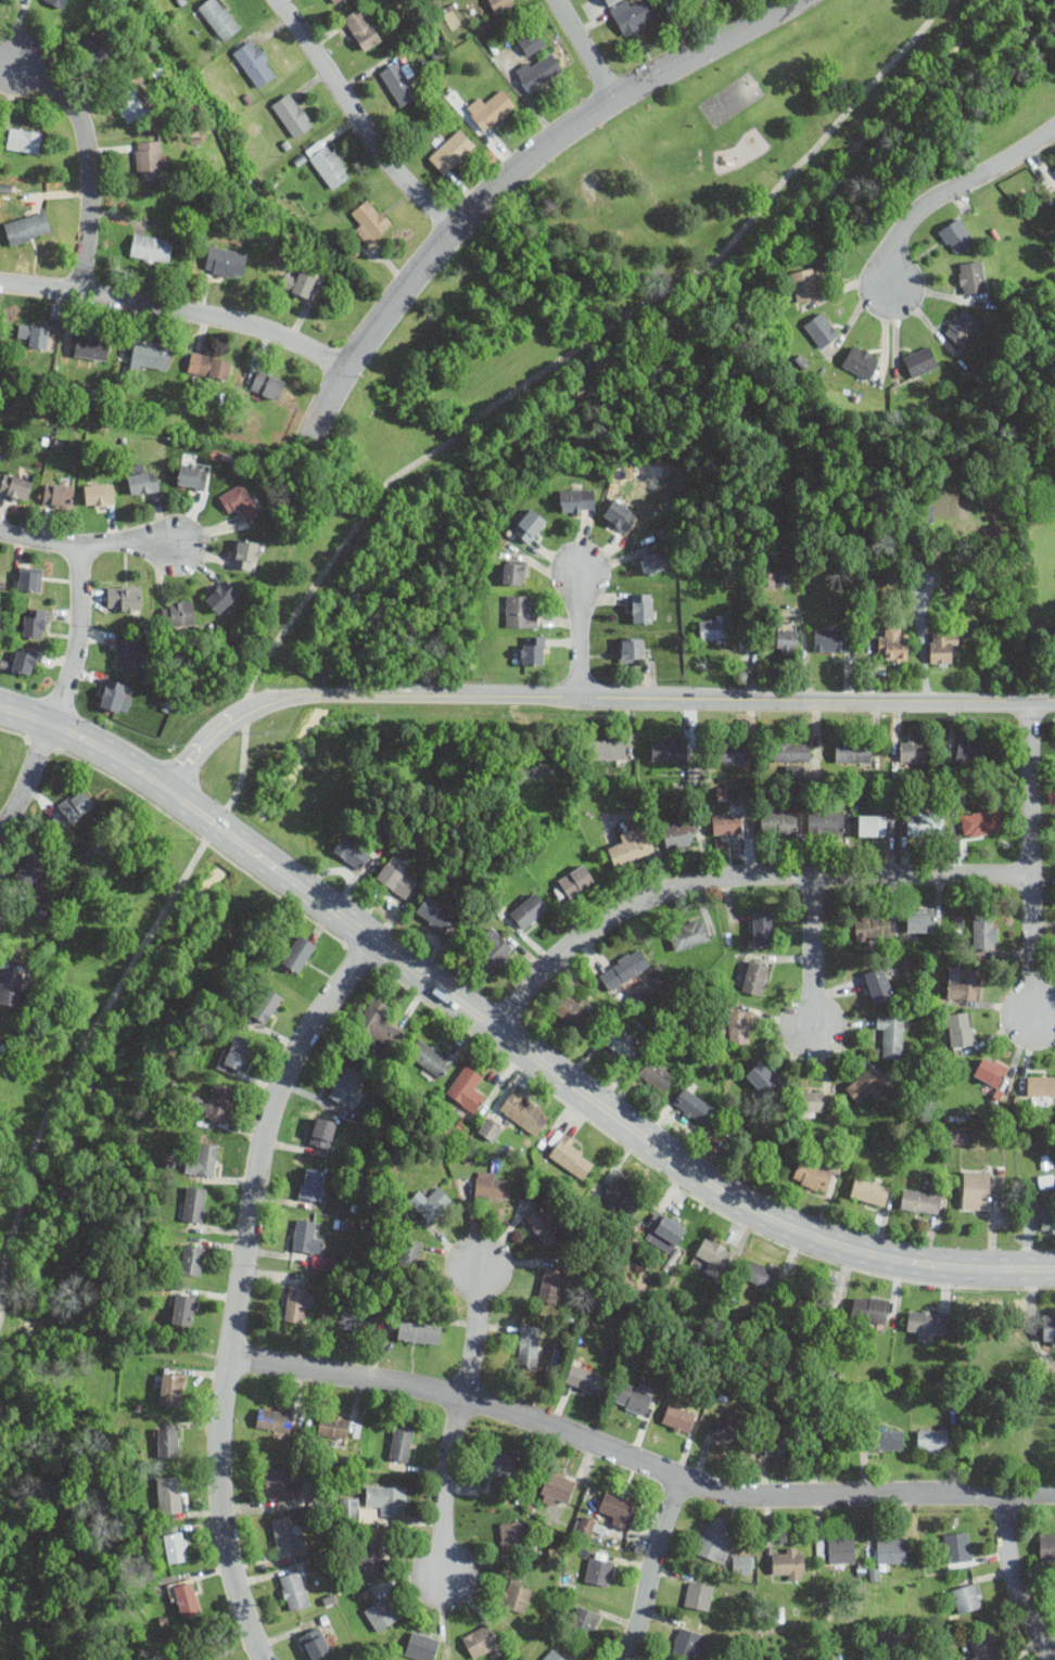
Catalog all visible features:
building: (0, 0)
building: (333, 1)
building: (677, 1)
building: (58, 2)
building: (500, 4)
building: (630, 14)
building: (219, 17)
building: (363, 28)
building: (531, 42)
road: (584, 48)
building: (96, 50)
building: (254, 62)
building: (538, 71)
building: (398, 81)
park: (730, 99)
building: (130, 104)
building: (492, 110)
building: (292, 114)
road: (357, 117)
building: (24, 139)
building: (452, 150)
building: (149, 158)
road: (87, 162)
building: (328, 162)
building: (1054, 168)
building: (1054, 170)
road: (507, 175)
road: (951, 193)
building: (370, 219)
building: (26, 227)
building: (956, 234)
building: (151, 247)
building: (226, 260)
building: (971, 276)
building: (298, 282)
building: (805, 283)
road: (175, 309)
park: (618, 319)
building: (962, 325)
building: (821, 329)
building: (35, 334)
building: (91, 346)
building: (151, 356)
building: (860, 360)
building: (920, 360)
building: (208, 365)
building: (267, 383)
building: (192, 474)
building: (143, 481)
building: (15, 486)
building: (59, 494)
building: (99, 494)
building: (576, 500)
building: (240, 501)
building: (620, 514)
building: (530, 524)
road: (88, 544)
building: (246, 553)
building: (932, 556)
building: (650, 558)
road: (331, 564)
building: (513, 572)
building: (776, 576)
building: (30, 578)
building: (221, 596)
building: (124, 599)
building: (641, 608)
building: (521, 611)
building: (179, 613)
building: (35, 622)
building: (715, 627)
road: (577, 631)
building: (829, 638)
building: (787, 639)
building: (893, 643)
building: (943, 647)
building: (632, 648)
building: (533, 649)
building: (128, 653)
building: (24, 661)
road: (66, 692)
building: (113, 693)
road: (590, 695)
building: (607, 748)
building: (668, 749)
building: (914, 750)
building: (734, 751)
building: (791, 751)
building: (975, 751)
building: (853, 752)
building: (795, 769)
building: (694, 774)
building: (76, 804)
building: (826, 820)
building: (778, 821)
building: (980, 821)
building: (727, 822)
building: (925, 822)
building: (872, 823)
building: (679, 831)
building: (627, 845)
building: (352, 852)
road: (1028, 860)
building: (30, 868)
road: (734, 874)
building: (395, 879)
building: (576, 880)
building: (0, 902)
building: (38, 906)
building: (529, 908)
building: (1, 909)
building: (435, 911)
building: (920, 918)
building: (877, 925)
building: (762, 928)
building: (984, 930)
building: (688, 933)
building: (493, 949)
road: (813, 950)
building: (297, 953)
building: (624, 968)
building: (755, 978)
building: (964, 982)
building: (879, 984)
building: (10, 987)
building: (266, 1004)
building: (571, 1010)
building: (379, 1022)
building: (734, 1027)
building: (961, 1027)
building: (891, 1035)
road: (508, 1037)
building: (620, 1043)
building: (238, 1050)
building: (432, 1058)
building: (990, 1069)
building: (657, 1074)
building: (762, 1076)
building: (346, 1084)
building: (865, 1085)
building: (1041, 1085)
building: (467, 1087)
building: (218, 1100)
building: (692, 1102)
building: (811, 1102)
building: (524, 1111)
building: (490, 1128)
building: (323, 1132)
building: (571, 1153)
building: (204, 1160)
building: (814, 1174)
building: (313, 1183)
building: (492, 1186)
building: (975, 1189)
building: (869, 1191)
building: (623, 1195)
building: (920, 1199)
building: (429, 1201)
building: (194, 1202)
building: (1047, 1216)
park: (68, 1217)
building: (544, 1224)
building: (665, 1231)
building: (307, 1236)
building: (410, 1252)
building: (713, 1255)
building: (192, 1259)
building: (761, 1274)
building: (551, 1284)
road: (240, 1287)
building: (813, 1298)
building: (295, 1303)
building: (183, 1308)
building: (869, 1308)
building: (356, 1319)
building: (926, 1321)
road: (10, 1325)
building: (1048, 1326)
road: (475, 1328)
road: (31, 1329)
building: (419, 1331)
road: (136, 1340)
building: (527, 1346)
building: (586, 1378)
building: (170, 1387)
building: (633, 1397)
building: (274, 1418)
building: (678, 1418)
building: (333, 1425)
building: (729, 1431)
building: (931, 1438)
building: (886, 1439)
building: (834, 1440)
building: (169, 1441)
building: (401, 1442)
building: (779, 1444)
road: (637, 1459)
building: (500, 1463)
building: (280, 1483)
road: (445, 1484)
building: (556, 1487)
building: (169, 1493)
building: (386, 1498)
road: (58, 1501)
building: (349, 1508)
building: (619, 1508)
building: (584, 1525)
building: (283, 1532)
building: (512, 1535)
building: (714, 1538)
building: (1046, 1545)
building: (175, 1546)
building: (957, 1546)
building: (841, 1548)
building: (892, 1548)
building: (372, 1556)
building: (789, 1562)
building: (743, 1563)
building: (599, 1568)
road: (653, 1569)
road: (1016, 1581)
building: (294, 1589)
building: (517, 1594)
building: (698, 1594)
building: (967, 1596)
building: (187, 1598)
building: (380, 1612)
building: (584, 1620)
building: (481, 1640)
building: (688, 1642)
building: (314, 1643)
building: (421, 1645)
building: (987, 1647)
building: (552, 1655)

